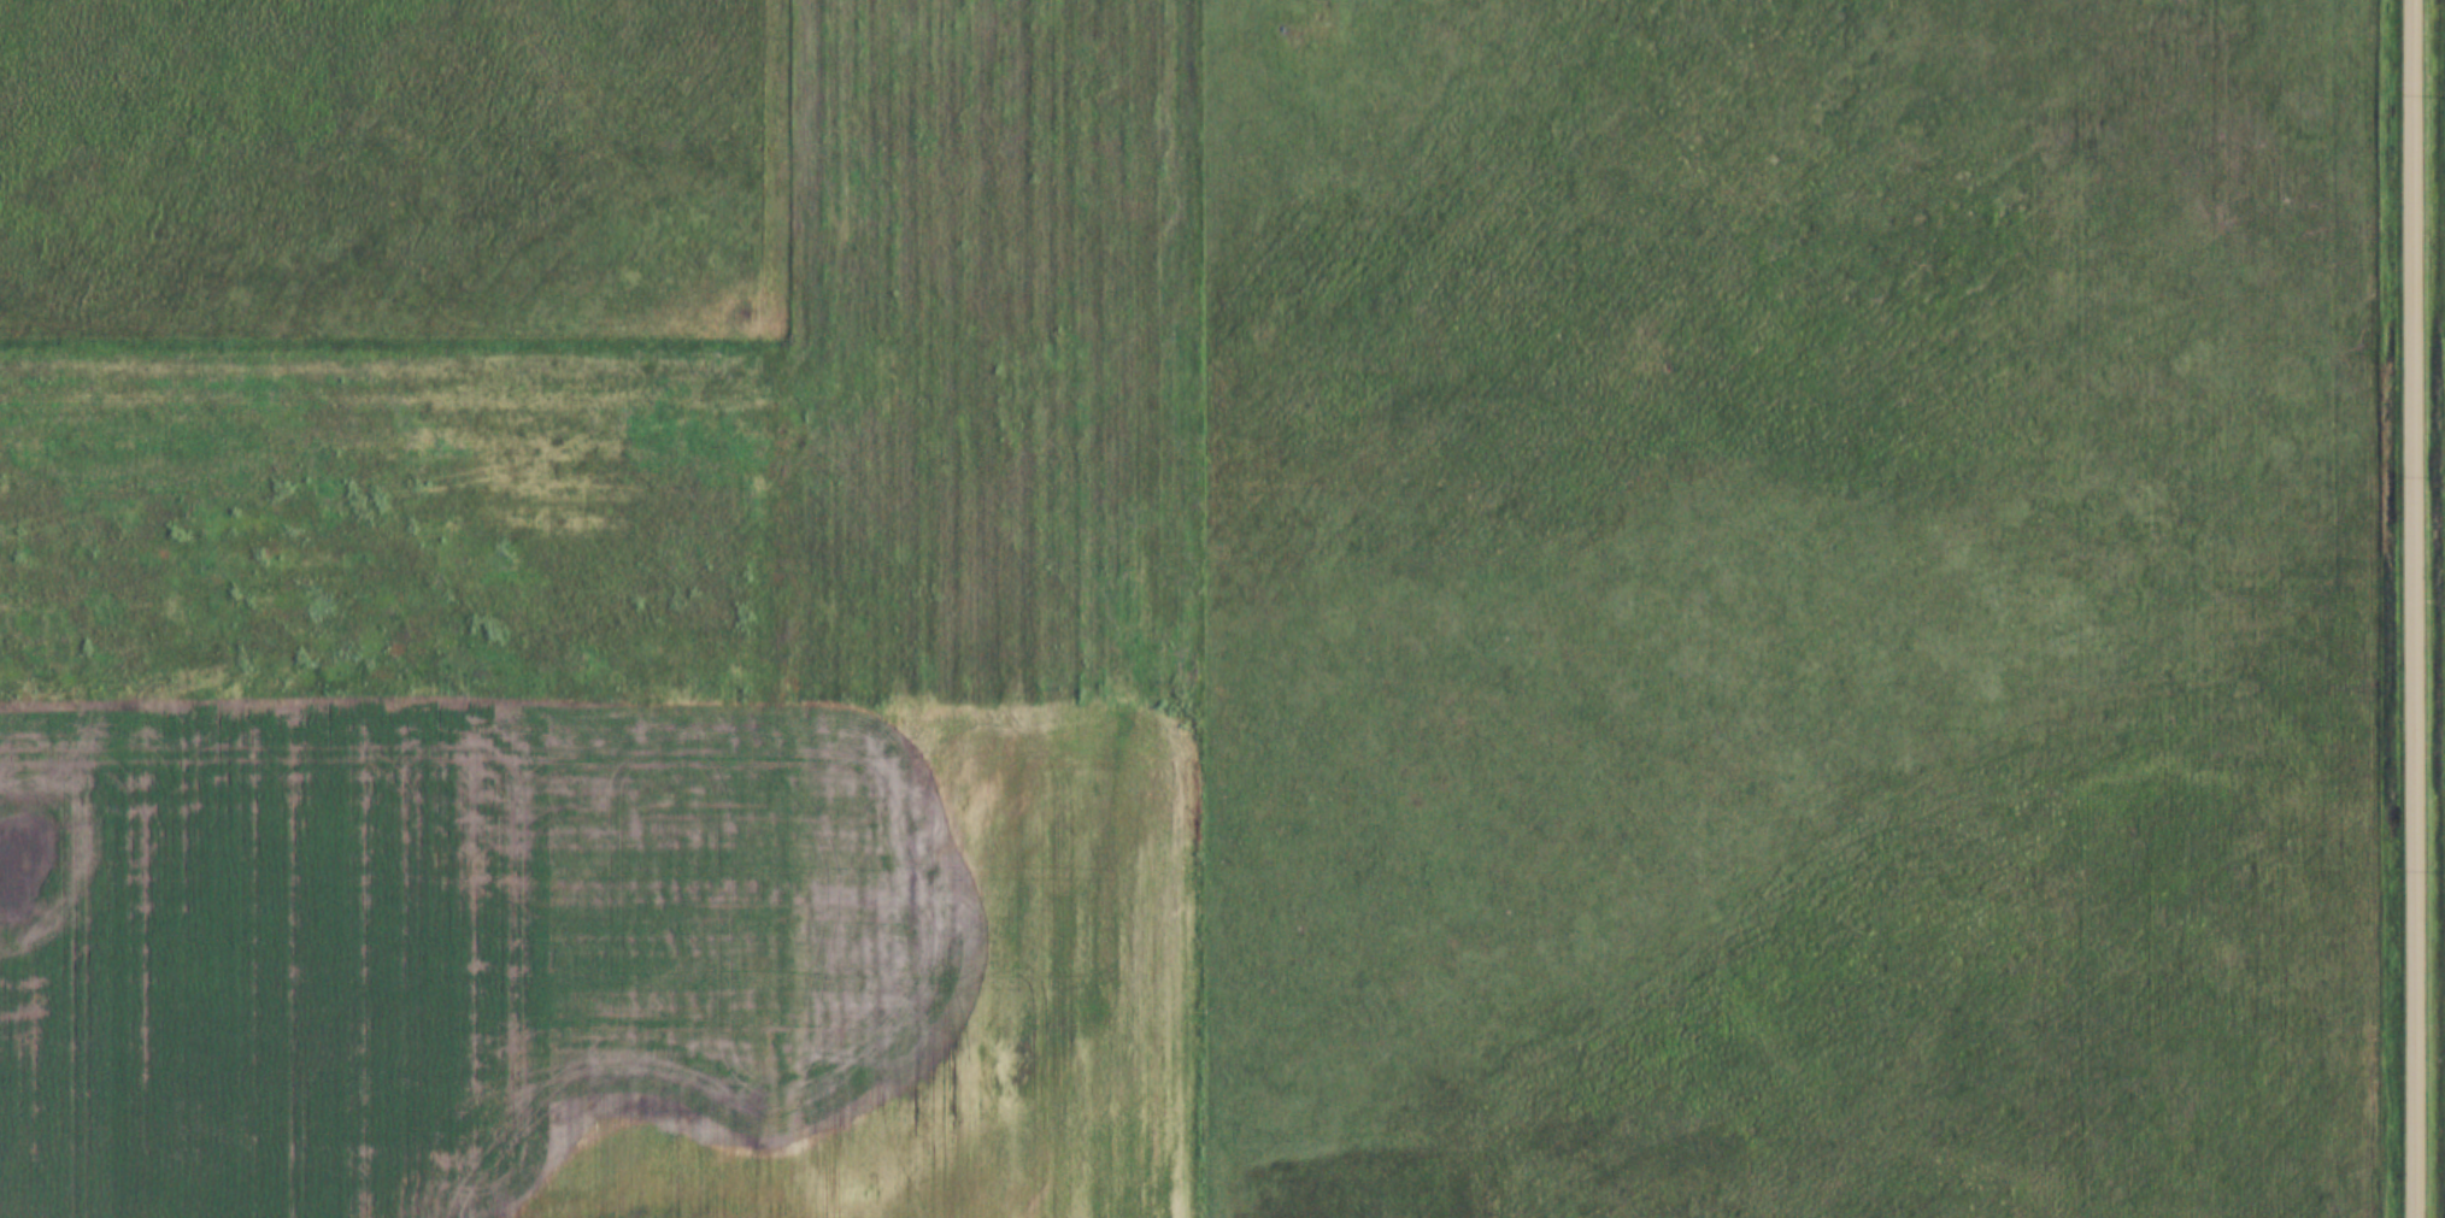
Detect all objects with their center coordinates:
road: (2412, 608)

